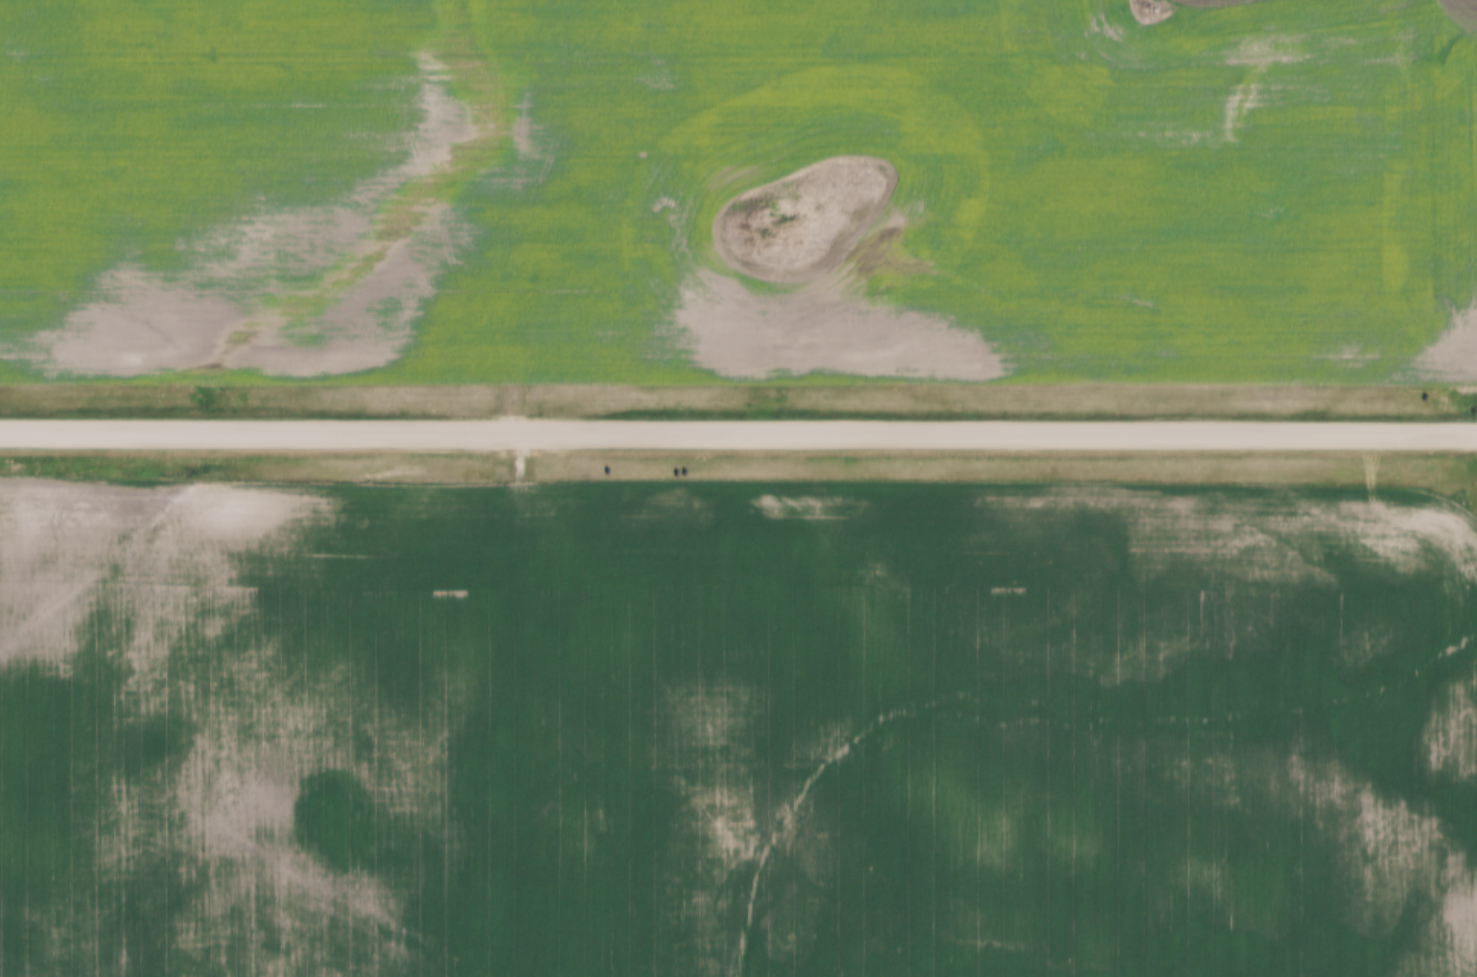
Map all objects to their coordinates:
road: (738, 432)

